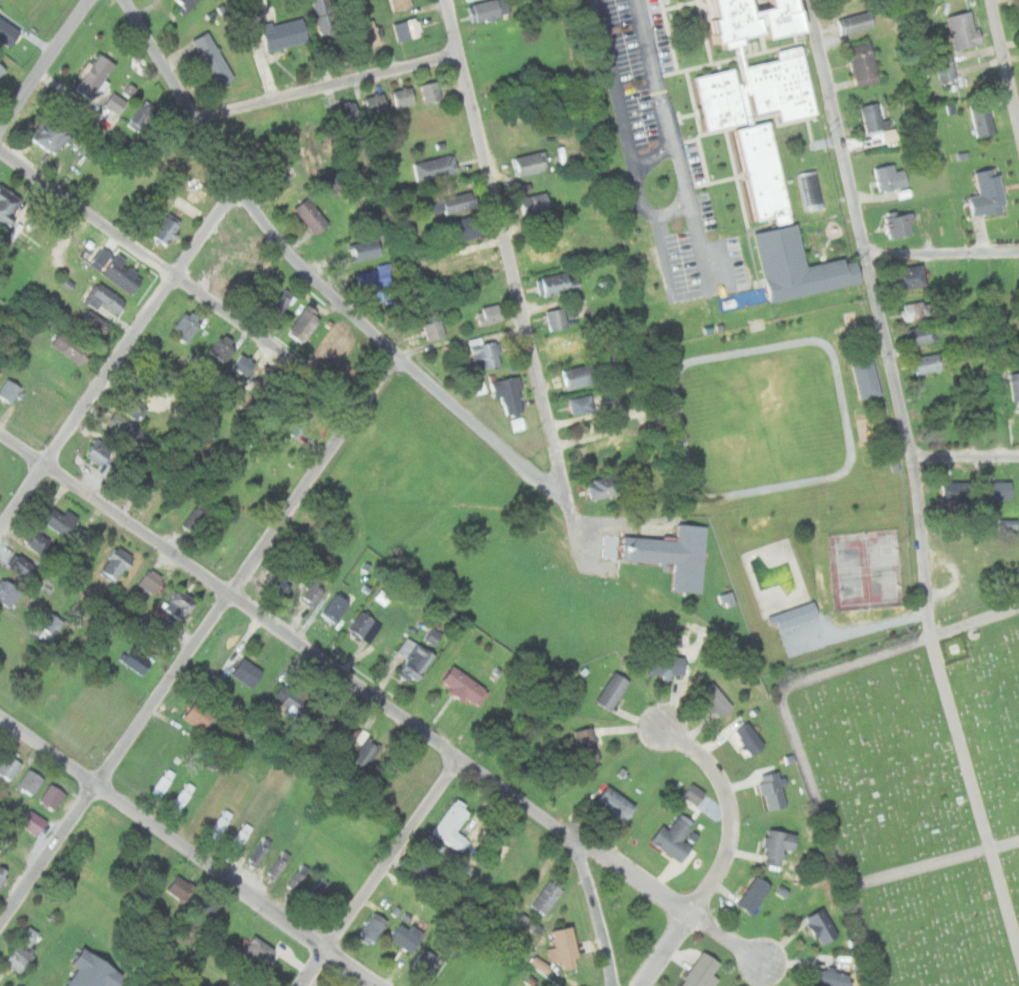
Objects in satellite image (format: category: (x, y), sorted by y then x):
building: (463, 0)
building: (468, 0)
building: (187, 4)
building: (260, 4)
building: (400, 4)
building: (485, 11)
building: (327, 16)
building: (858, 22)
building: (755, 23)
building: (407, 29)
building: (966, 29)
building: (8, 31)
building: (285, 33)
building: (370, 34)
road: (1005, 55)
building: (214, 59)
building: (866, 64)
building: (946, 66)
road: (47, 67)
building: (3, 70)
building: (96, 76)
road: (658, 76)
road: (327, 85)
road: (617, 87)
building: (432, 91)
building: (758, 94)
building: (405, 97)
building: (117, 103)
building: (376, 103)
building: (350, 110)
building: (145, 115)
building: (877, 115)
building: (984, 117)
building: (519, 134)
building: (52, 135)
building: (312, 162)
building: (531, 163)
building: (436, 167)
building: (274, 174)
building: (764, 177)
building: (892, 177)
road: (639, 181)
building: (325, 186)
building: (990, 193)
building: (453, 201)
building: (537, 205)
building: (6, 208)
building: (312, 215)
building: (904, 223)
building: (465, 228)
building: (166, 229)
building: (552, 248)
building: (362, 250)
road: (943, 251)
road: (290, 256)
building: (99, 258)
building: (472, 261)
road: (513, 262)
building: (798, 269)
building: (126, 275)
building: (913, 276)
building: (375, 278)
road: (181, 283)
building: (560, 283)
building: (107, 298)
building: (280, 301)
building: (918, 310)
building: (491, 314)
road: (883, 317)
building: (559, 318)
building: (1, 322)
building: (305, 322)
building: (96, 324)
building: (188, 329)
building: (435, 329)
building: (920, 333)
building: (566, 343)
building: (335, 346)
building: (69, 347)
building: (222, 349)
building: (487, 353)
road: (119, 362)
building: (245, 363)
building: (928, 363)
building: (585, 375)
building: (867, 376)
road: (375, 386)
building: (1016, 386)
building: (9, 390)
building: (510, 394)
building: (582, 404)
building: (132, 409)
building: (297, 417)
building: (123, 428)
building: (99, 452)
building: (602, 453)
road: (968, 460)
building: (606, 487)
building: (997, 488)
building: (947, 490)
building: (965, 490)
road: (570, 511)
building: (196, 517)
building: (60, 520)
building: (1004, 524)
building: (79, 537)
building: (39, 542)
building: (674, 555)
building: (117, 564)
building: (23, 567)
building: (151, 582)
building: (282, 583)
building: (8, 593)
building: (313, 594)
building: (178, 606)
building: (336, 608)
building: (794, 616)
building: (51, 624)
building: (365, 627)
building: (430, 635)
building: (414, 660)
building: (135, 664)
building: (668, 665)
road: (343, 672)
building: (248, 673)
road: (178, 677)
building: (466, 686)
building: (613, 690)
building: (715, 699)
building: (199, 714)
building: (322, 720)
road: (792, 724)
building: (341, 738)
building: (750, 739)
building: (588, 746)
building: (361, 753)
building: (8, 766)
building: (29, 782)
building: (162, 783)
road: (977, 788)
building: (772, 791)
building: (694, 794)
building: (51, 796)
building: (181, 797)
park: (920, 798)
building: (617, 804)
road: (728, 808)
building: (452, 820)
building: (33, 822)
building: (220, 823)
road: (167, 834)
building: (240, 836)
building: (675, 838)
building: (778, 845)
building: (259, 850)
building: (279, 863)
road: (934, 867)
road: (387, 871)
building: (426, 873)
building: (2, 874)
building: (297, 877)
building: (179, 888)
building: (318, 890)
building: (754, 894)
building: (548, 897)
building: (206, 905)
road: (593, 908)
building: (525, 924)
building: (821, 926)
building: (373, 928)
building: (408, 935)
road: (725, 936)
building: (563, 941)
road: (663, 948)
building: (21, 953)
building: (259, 957)
building: (424, 963)
building: (536, 964)
road: (355, 970)
building: (701, 970)
building: (94, 971)
building: (831, 978)
building: (237, 983)

